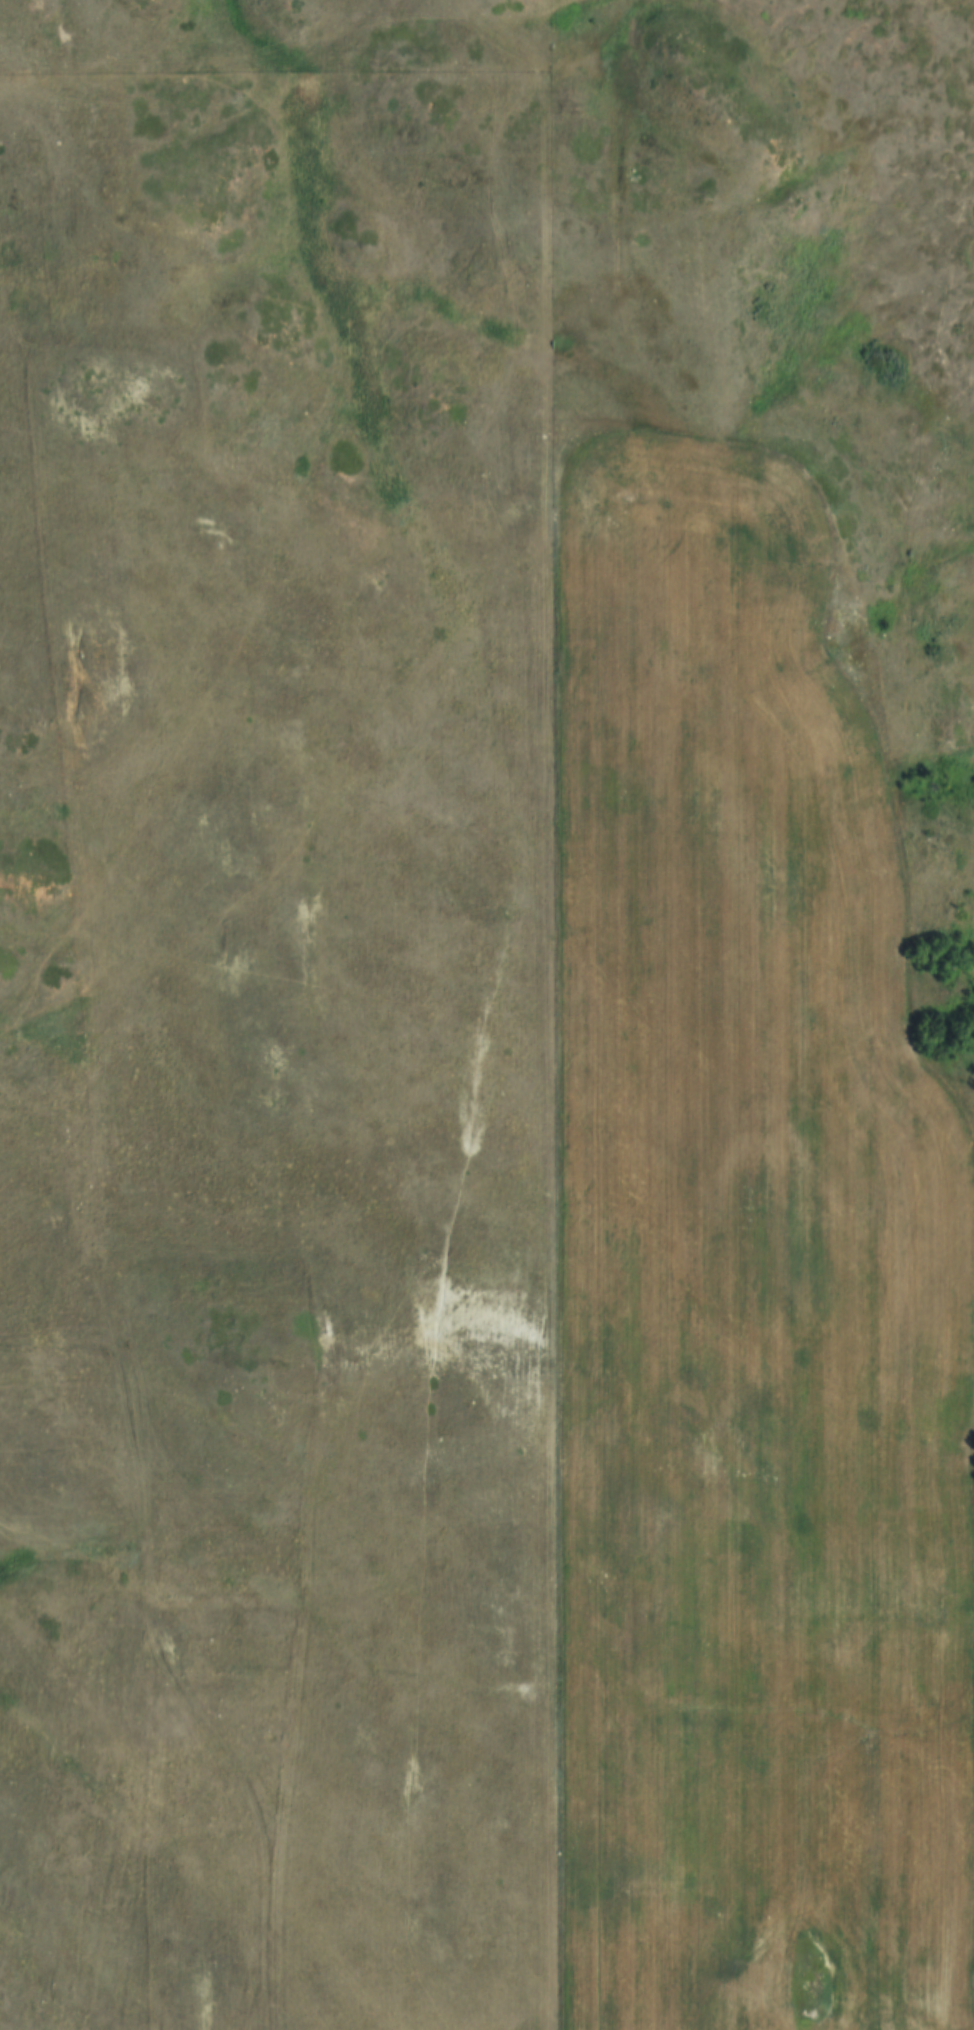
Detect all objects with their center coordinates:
road: (621, 213)

